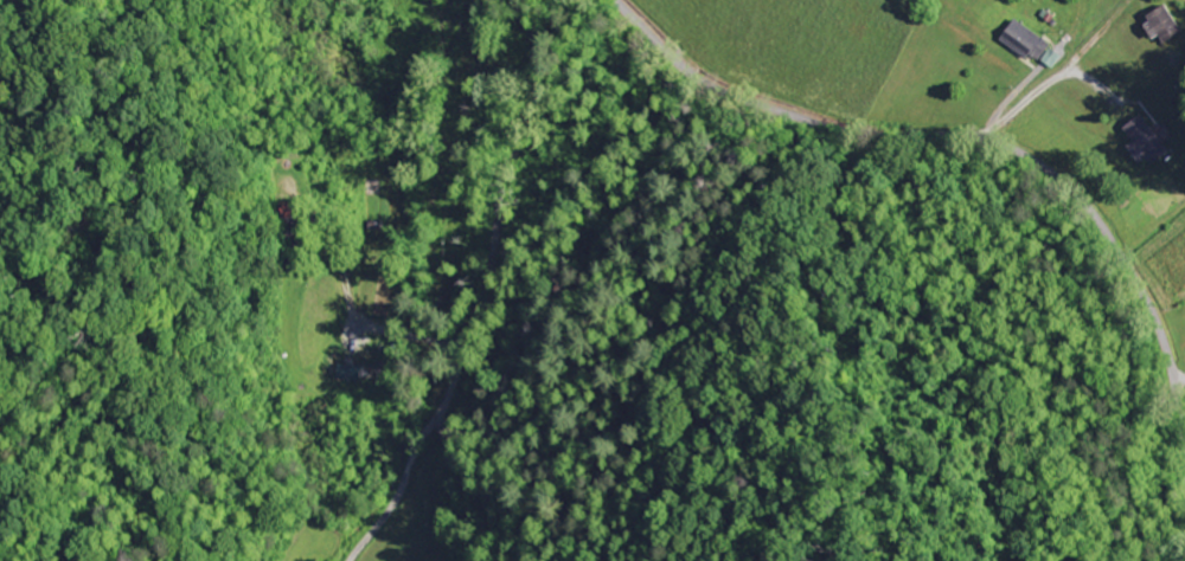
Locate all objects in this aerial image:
building: (1023, 41)
building: (1049, 58)
road: (455, 129)
road: (988, 140)
building: (1141, 141)
road: (499, 199)

